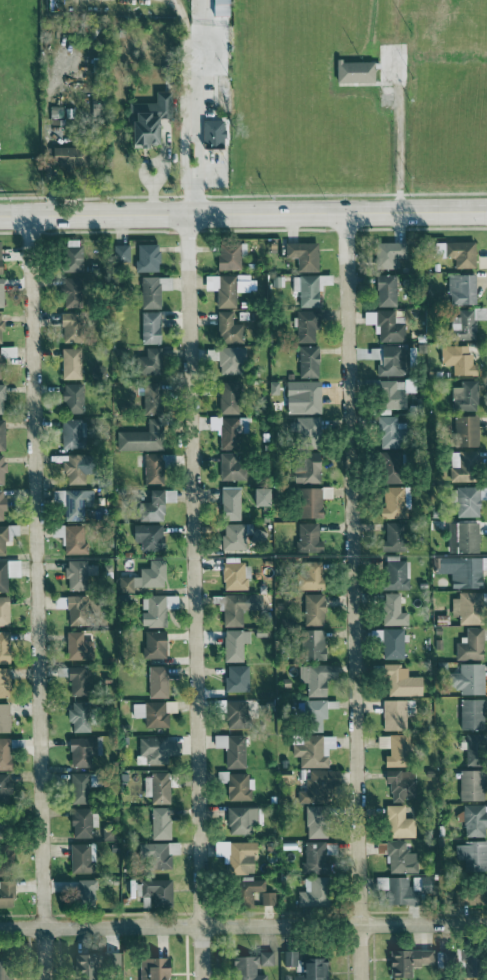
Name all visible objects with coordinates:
building: (215, 7)
road: (186, 37)
building: (351, 70)
road: (194, 107)
building: (143, 118)
building: (210, 131)
road: (405, 139)
building: (63, 153)
road: (243, 215)
building: (117, 252)
building: (454, 252)
building: (301, 254)
building: (385, 254)
building: (228, 255)
building: (144, 257)
building: (69, 258)
building: (67, 286)
building: (231, 288)
building: (307, 288)
building: (458, 288)
building: (383, 289)
building: (151, 290)
building: (0, 303)
building: (476, 312)
building: (0, 324)
building: (460, 324)
building: (304, 325)
building: (387, 325)
building: (68, 326)
building: (147, 327)
building: (227, 328)
building: (6, 352)
building: (229, 358)
building: (455, 358)
building: (388, 360)
building: (146, 361)
building: (306, 361)
building: (68, 362)
building: (389, 393)
building: (301, 394)
building: (462, 395)
building: (70, 397)
building: (147, 397)
building: (227, 397)
building: (0, 398)
building: (463, 430)
building: (231, 431)
building: (303, 431)
building: (385, 431)
building: (69, 433)
building: (0, 435)
building: (138, 437)
building: (461, 464)
building: (230, 465)
building: (304, 466)
building: (386, 466)
building: (149, 468)
building: (1, 469)
building: (69, 470)
building: (256, 496)
building: (467, 500)
building: (307, 502)
building: (390, 502)
building: (69, 503)
building: (227, 503)
building: (152, 504)
building: (0, 505)
building: (55, 530)
building: (230, 535)
building: (145, 536)
building: (306, 536)
building: (390, 537)
building: (460, 537)
building: (73, 539)
building: (1, 540)
building: (7, 571)
building: (393, 573)
building: (74, 574)
building: (149, 574)
building: (306, 574)
building: (232, 575)
building: (123, 583)
road: (194, 597)
road: (353, 597)
road: (36, 598)
building: (57, 601)
building: (466, 606)
building: (232, 608)
building: (154, 609)
building: (311, 609)
building: (390, 609)
building: (72, 610)
building: (3, 611)
building: (390, 643)
building: (151, 644)
building: (232, 644)
building: (309, 644)
building: (75, 645)
building: (3, 647)
building: (314, 677)
building: (234, 678)
building: (465, 678)
building: (400, 680)
building: (74, 681)
building: (154, 681)
building: (3, 682)
building: (389, 712)
building: (148, 713)
building: (232, 713)
building: (468, 713)
building: (309, 714)
building: (76, 716)
building: (3, 717)
building: (381, 741)
building: (471, 746)
building: (154, 749)
building: (229, 749)
building: (311, 750)
building: (79, 751)
building: (395, 751)
building: (4, 753)
building: (280, 778)
building: (399, 783)
building: (468, 784)
building: (1, 785)
building: (235, 785)
building: (314, 785)
building: (77, 787)
building: (155, 787)
building: (240, 820)
building: (471, 820)
building: (313, 821)
building: (78, 822)
building: (397, 822)
building: (158, 823)
building: (171, 847)
building: (5, 853)
building: (155, 855)
building: (234, 855)
building: (312, 856)
building: (468, 856)
building: (77, 857)
building: (398, 857)
building: (400, 887)
building: (82, 891)
building: (154, 891)
building: (243, 891)
building: (5, 892)
building: (309, 892)
building: (466, 892)
building: (265, 897)
road: (243, 925)
building: (263, 958)
building: (287, 958)
building: (451, 960)
building: (109, 961)
building: (404, 961)
building: (81, 967)
building: (149, 968)
building: (243, 968)
building: (309, 969)
building: (7, 970)

